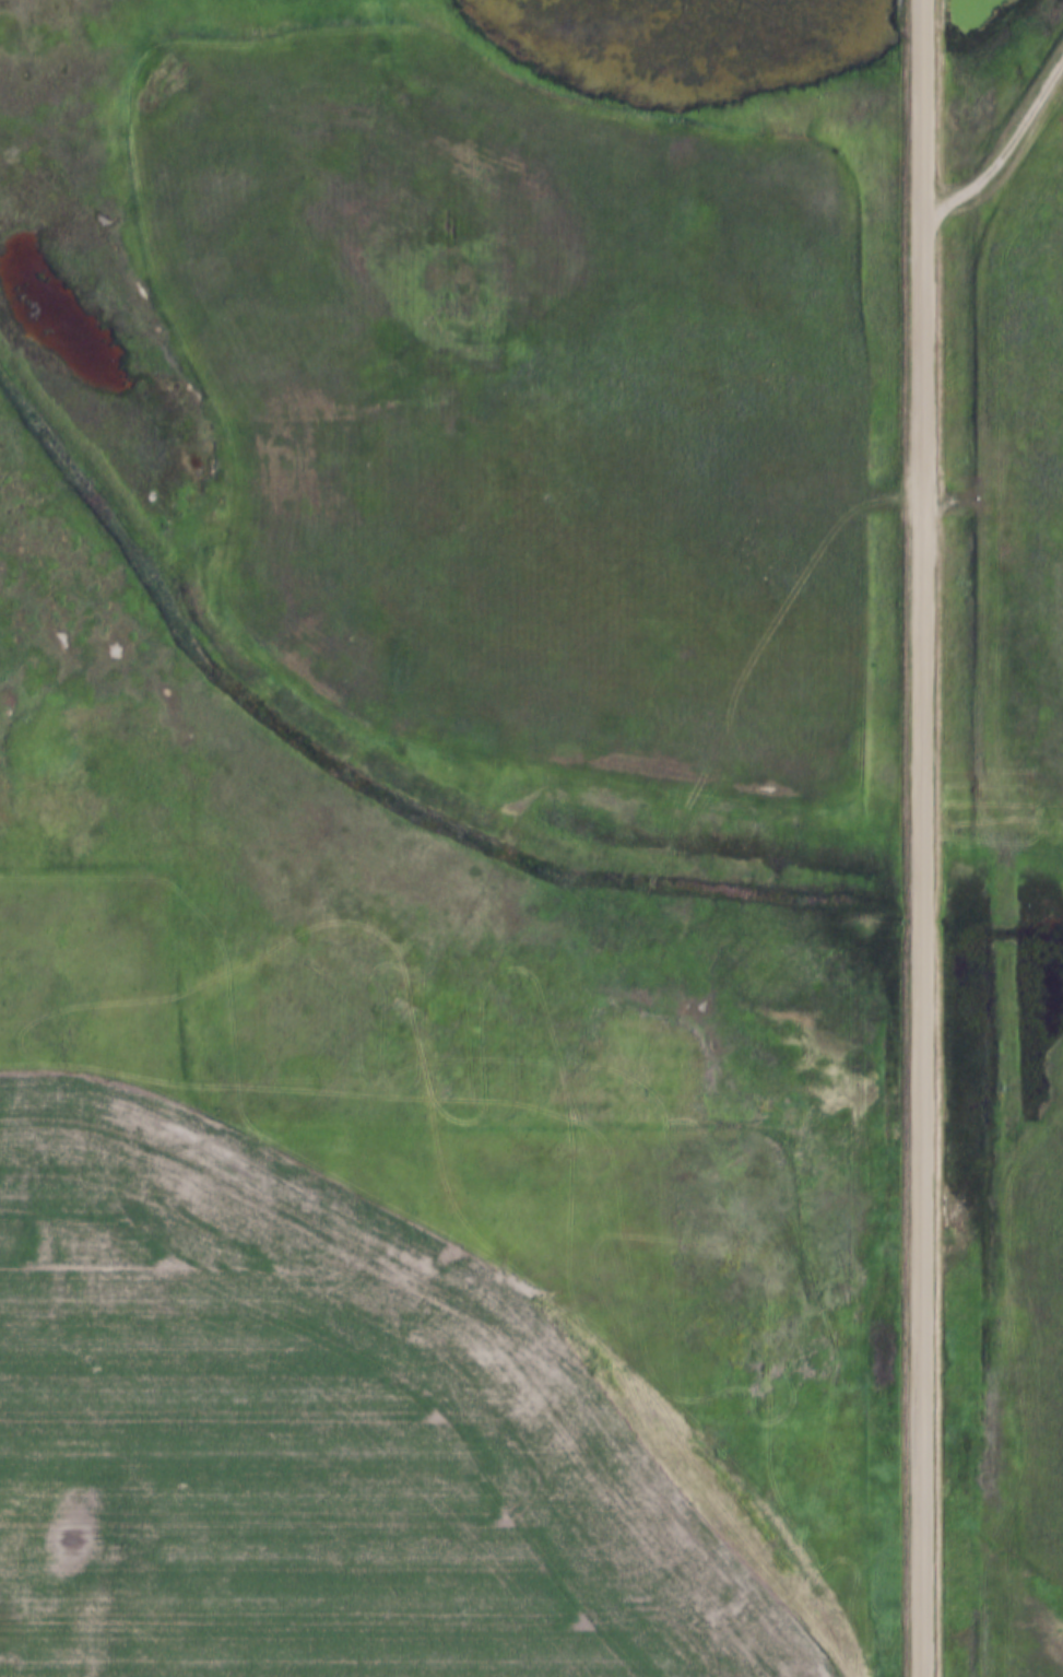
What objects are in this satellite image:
road: (1004, 150)
road: (923, 837)

